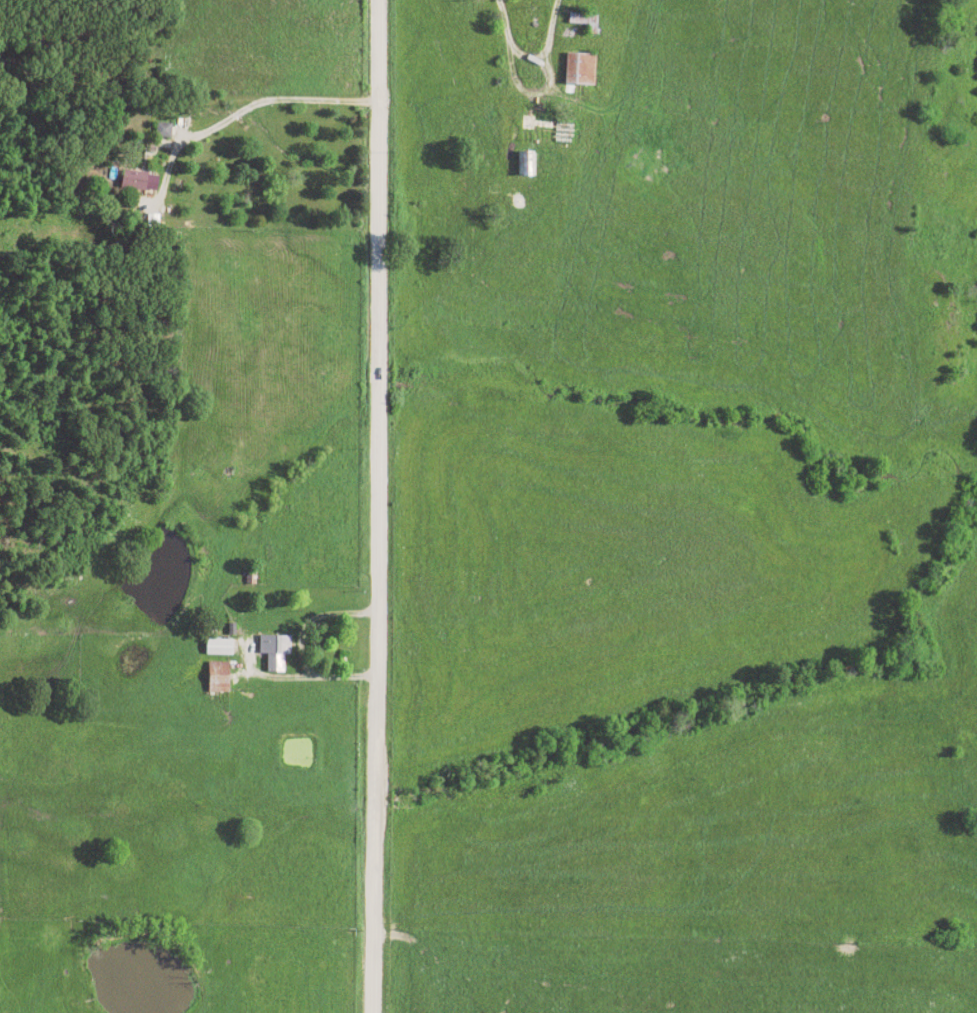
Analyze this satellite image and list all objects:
road: (500, 25)
building: (580, 70)
road: (517, 93)
road: (224, 100)
building: (164, 130)
building: (139, 181)
building: (153, 220)
road: (373, 506)
road: (312, 619)
building: (219, 646)
building: (275, 651)
building: (218, 676)
road: (277, 679)

